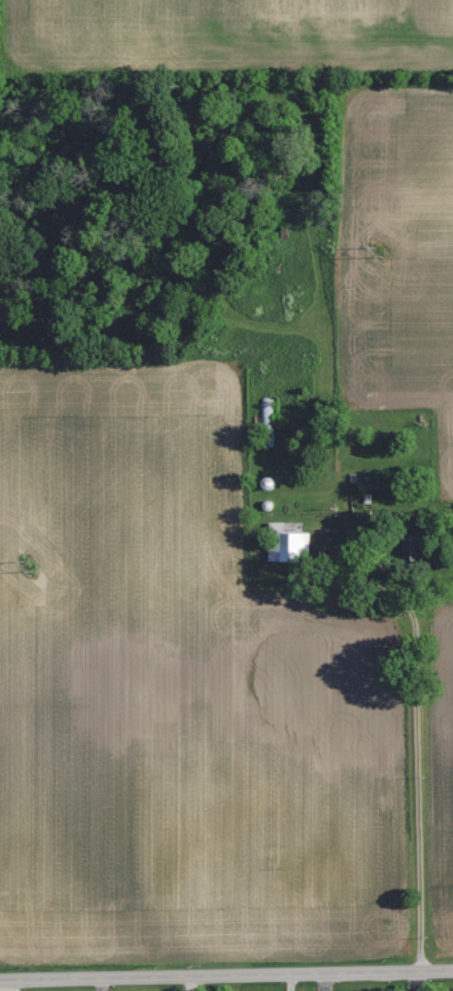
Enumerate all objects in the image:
power tower: (379, 251)
building: (292, 542)
building: (416, 547)
power tower: (30, 565)
road: (420, 797)
road: (226, 976)

